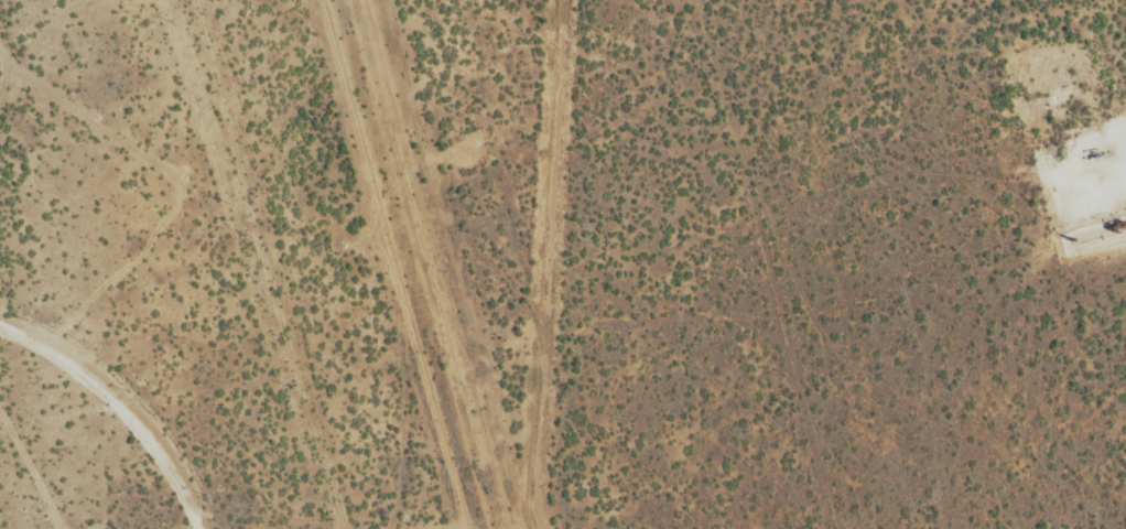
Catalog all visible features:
river: (26, 285)

